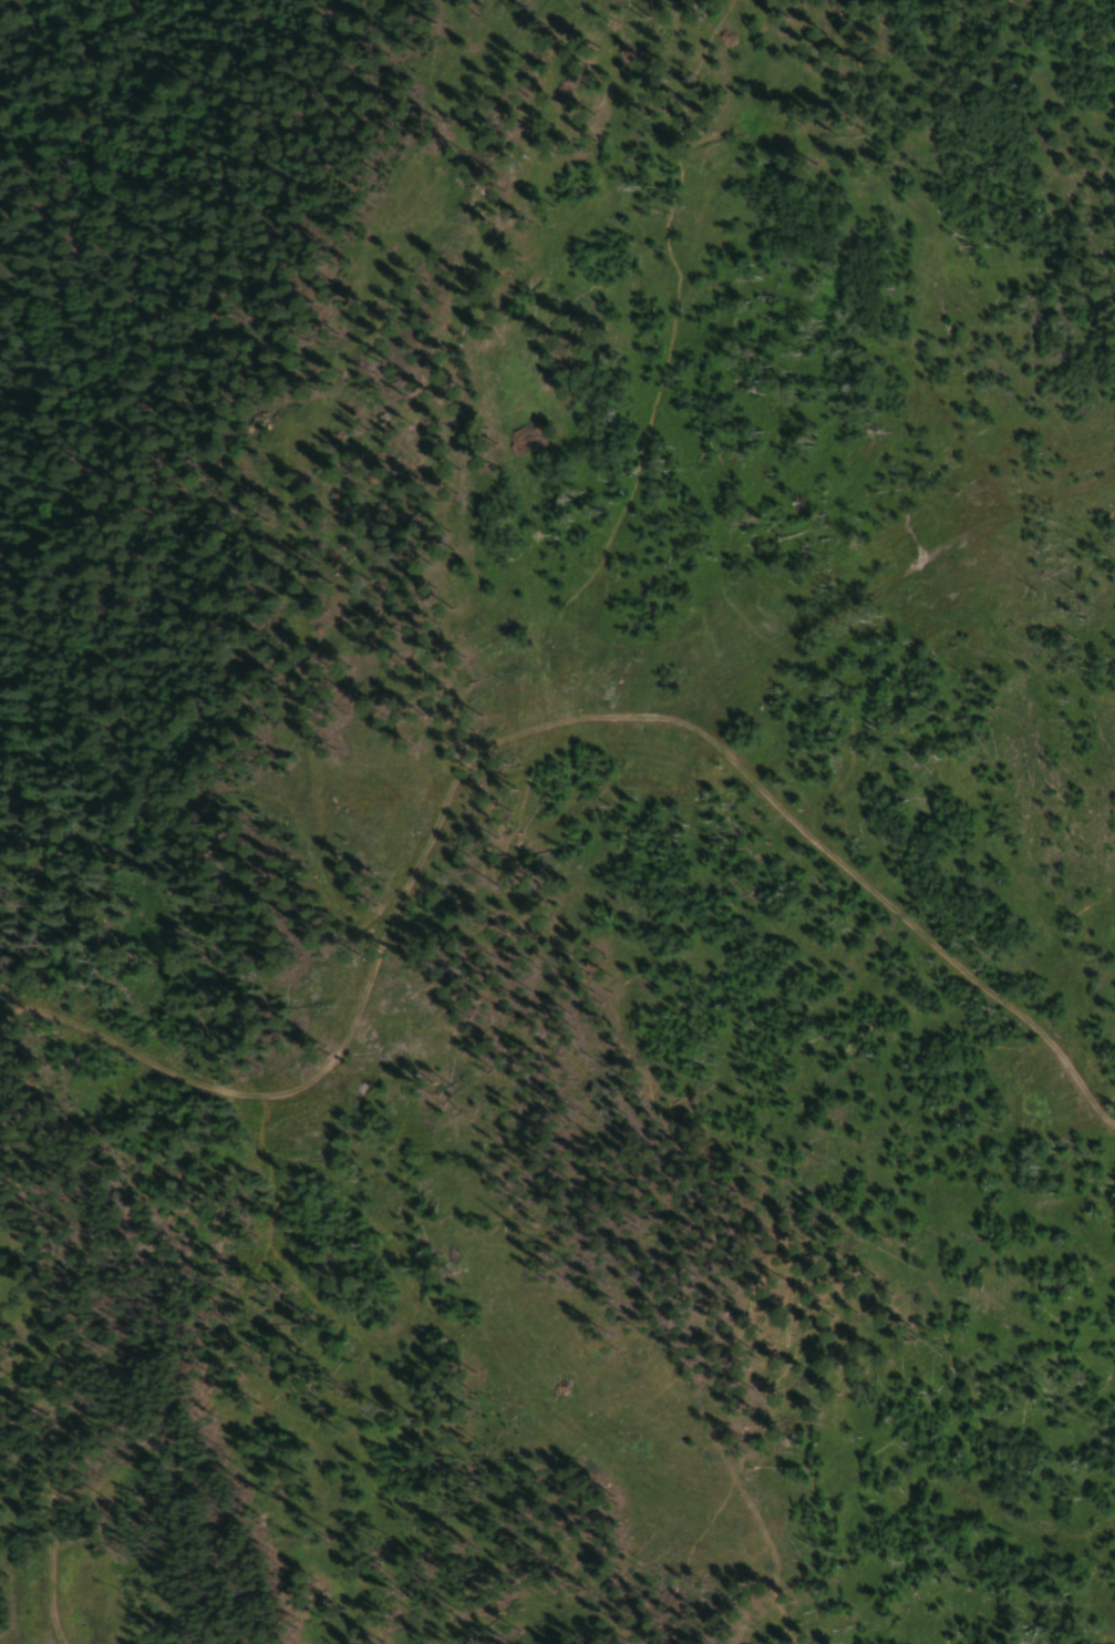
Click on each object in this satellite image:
road: (510, 746)
road: (49, 1507)

